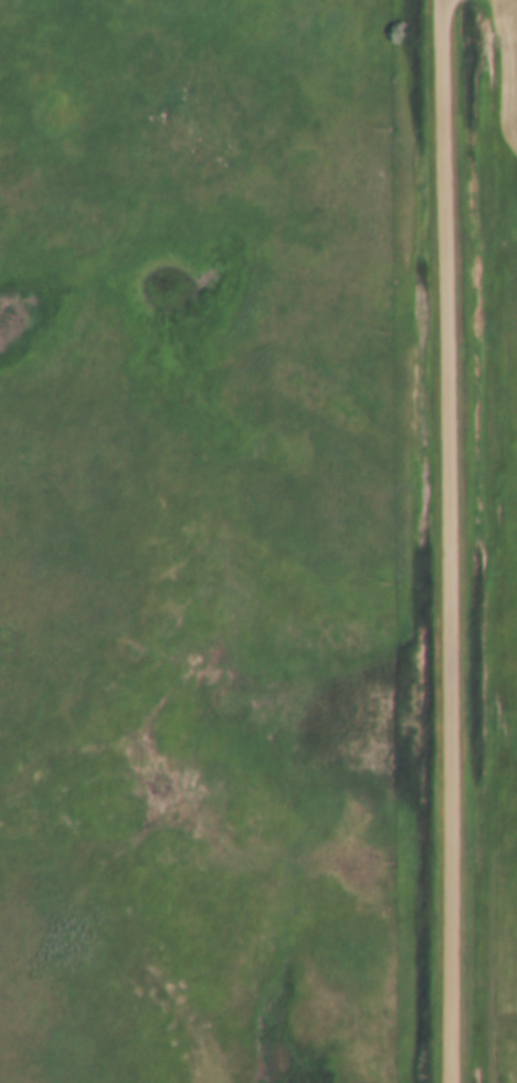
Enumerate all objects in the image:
road: (447, 541)

